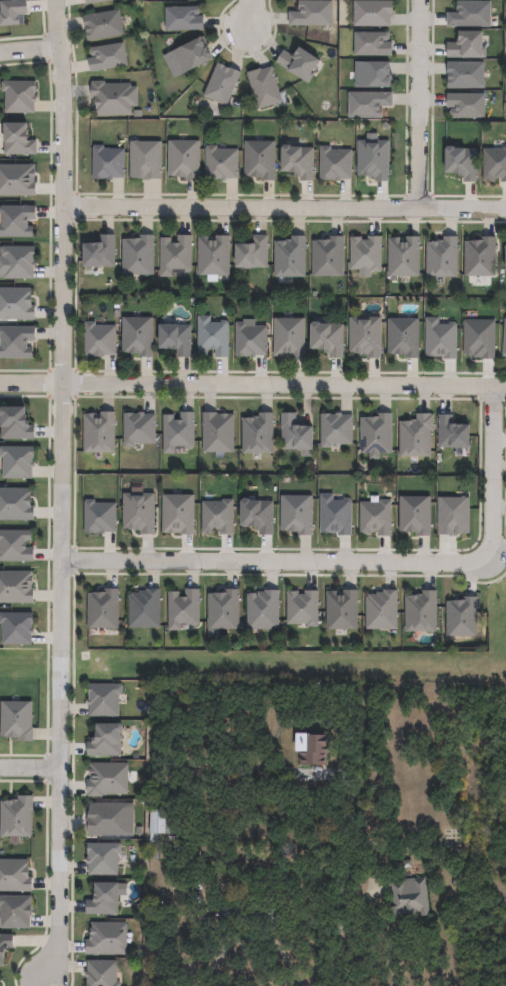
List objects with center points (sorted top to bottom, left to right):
building: (93, 1)
building: (12, 12)
building: (372, 13)
road: (250, 14)
building: (312, 14)
building: (470, 15)
building: (182, 19)
building: (102, 25)
building: (372, 44)
building: (467, 46)
road: (29, 52)
building: (190, 55)
building: (107, 57)
building: (298, 64)
building: (372, 75)
building: (465, 75)
building: (221, 85)
building: (264, 88)
building: (18, 96)
building: (111, 99)
building: (368, 104)
road: (419, 105)
building: (466, 106)
building: (16, 140)
building: (373, 158)
building: (145, 160)
building: (183, 160)
building: (259, 160)
building: (297, 162)
building: (107, 163)
building: (461, 163)
building: (221, 164)
building: (334, 165)
building: (494, 165)
building: (17, 180)
road: (285, 209)
building: (16, 221)
building: (98, 254)
building: (252, 254)
building: (366, 254)
building: (137, 256)
building: (175, 256)
building: (213, 257)
building: (328, 257)
building: (404, 257)
building: (290, 258)
building: (442, 258)
building: (480, 258)
building: (505, 259)
building: (16, 263)
building: (16, 304)
building: (137, 336)
building: (212, 337)
building: (365, 337)
building: (289, 338)
building: (403, 339)
building: (175, 340)
building: (327, 340)
building: (441, 340)
building: (479, 340)
building: (98, 341)
building: (250, 341)
building: (504, 341)
building: (15, 343)
road: (252, 388)
building: (14, 425)
building: (138, 430)
building: (336, 431)
building: (177, 433)
building: (98, 434)
building: (217, 434)
building: (294, 434)
building: (258, 435)
building: (452, 435)
building: (376, 436)
building: (416, 437)
building: (17, 463)
road: (62, 492)
building: (14, 504)
building: (139, 513)
building: (178, 514)
building: (296, 514)
building: (335, 515)
building: (416, 515)
building: (256, 516)
building: (454, 516)
building: (99, 517)
building: (217, 517)
building: (375, 518)
building: (15, 545)
road: (357, 566)
building: (15, 587)
building: (302, 607)
building: (183, 608)
building: (102, 609)
building: (144, 609)
building: (223, 609)
building: (263, 609)
building: (341, 609)
building: (381, 610)
building: (421, 611)
building: (462, 617)
building: (15, 628)
building: (103, 699)
building: (16, 720)
building: (104, 740)
building: (319, 746)
road: (29, 768)
building: (106, 779)
building: (16, 817)
building: (106, 819)
building: (166, 830)
building: (102, 858)
building: (14, 876)
road: (342, 882)
building: (410, 896)
building: (102, 899)
building: (15, 912)
building: (255, 912)
road: (253, 936)
road: (383, 936)
building: (106, 939)
building: (4, 945)
building: (101, 973)
building: (0, 985)

